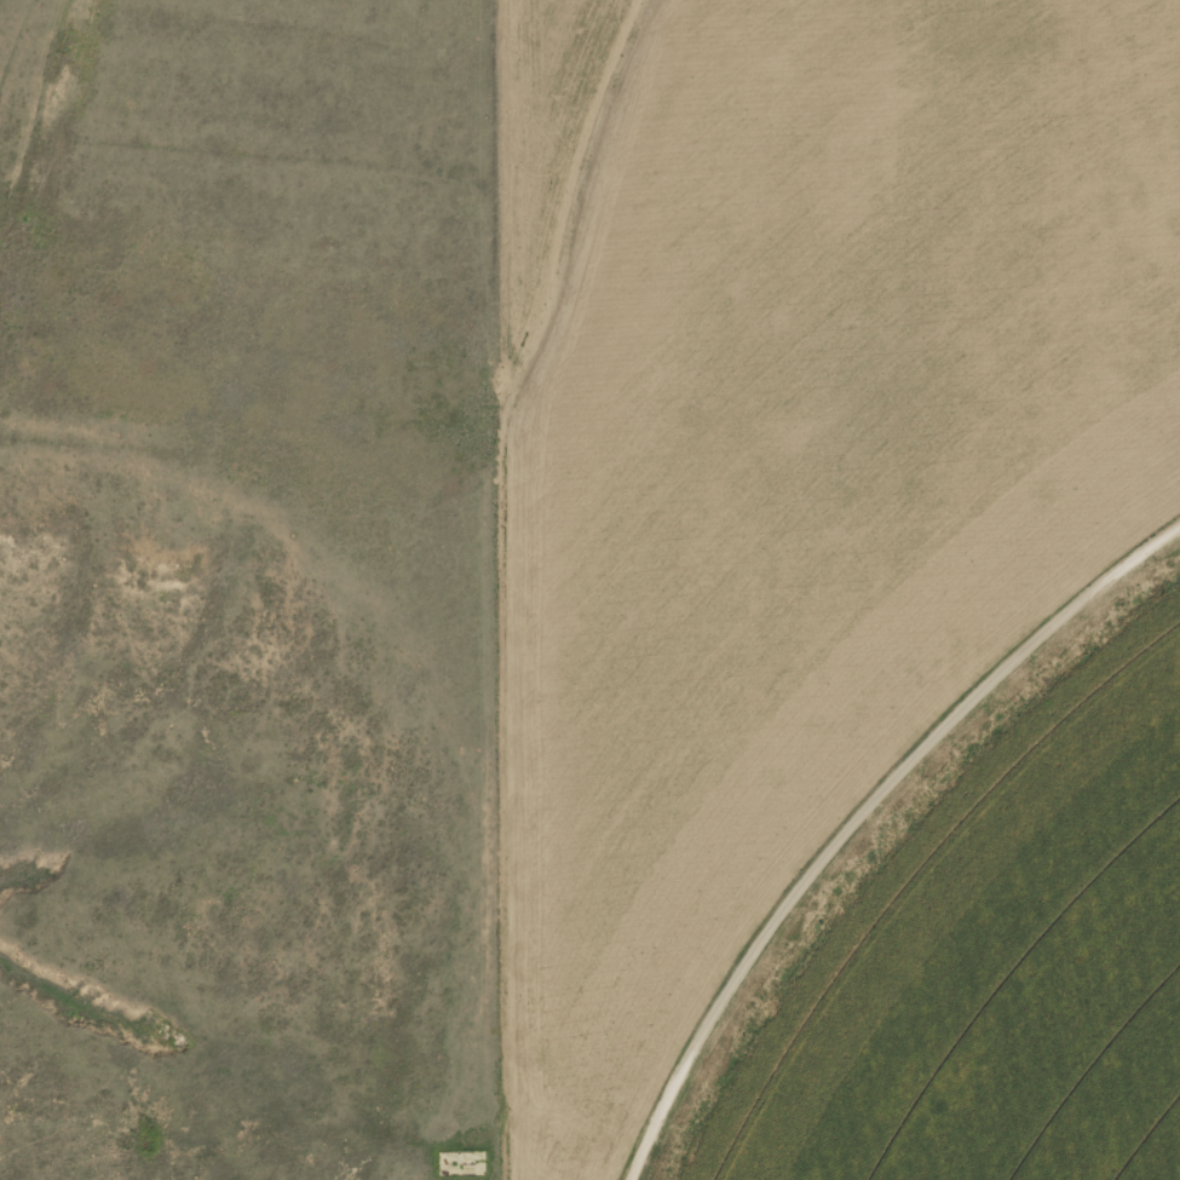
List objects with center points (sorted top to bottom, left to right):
road: (858, 815)

